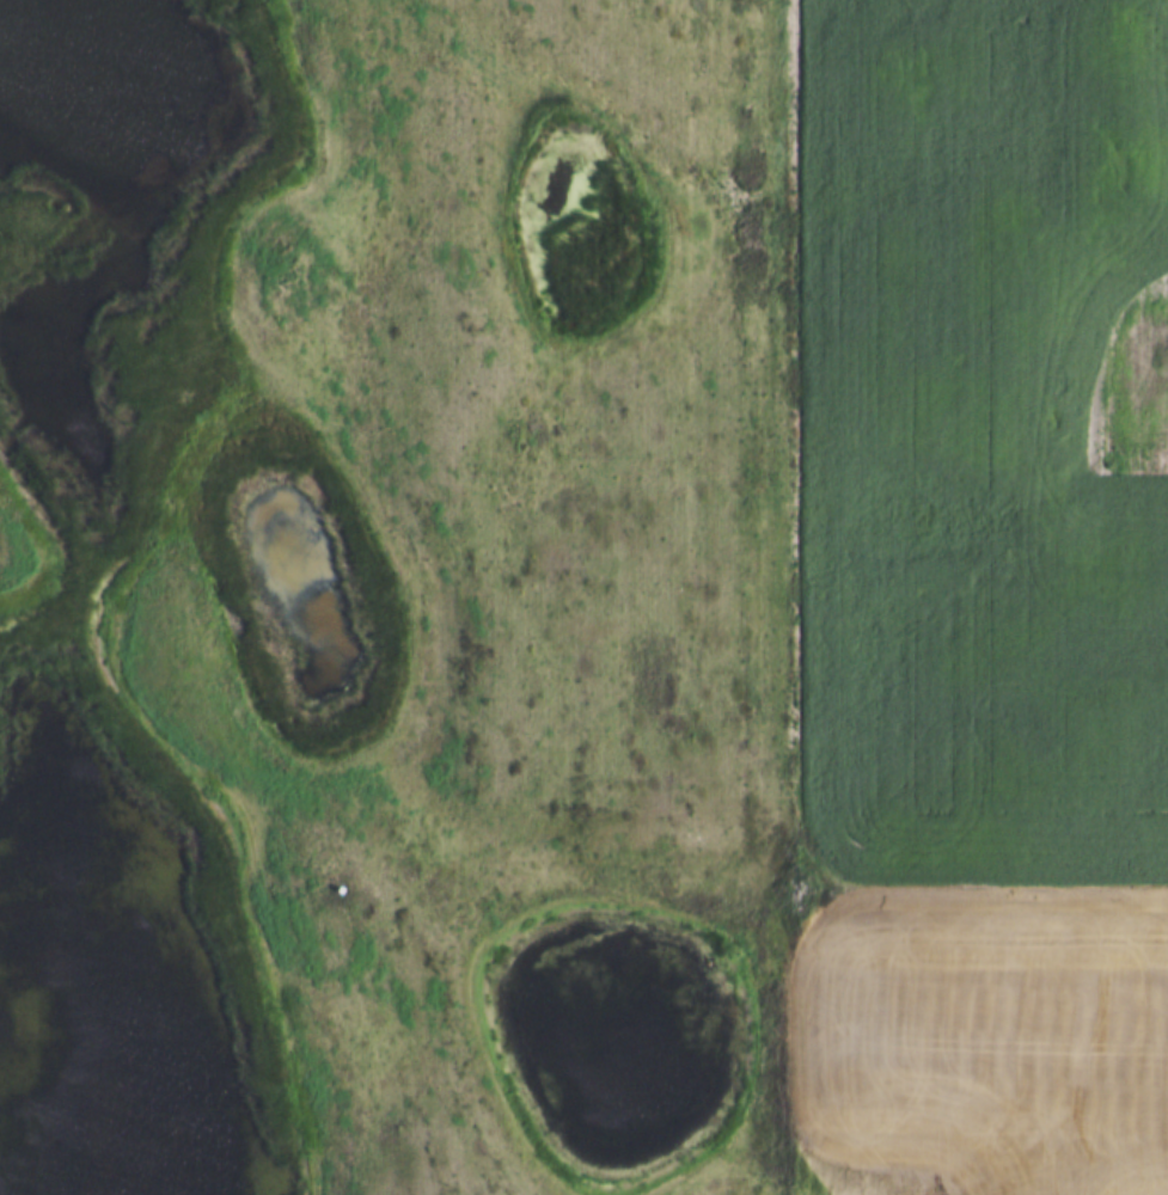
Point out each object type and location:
road: (787, 597)

